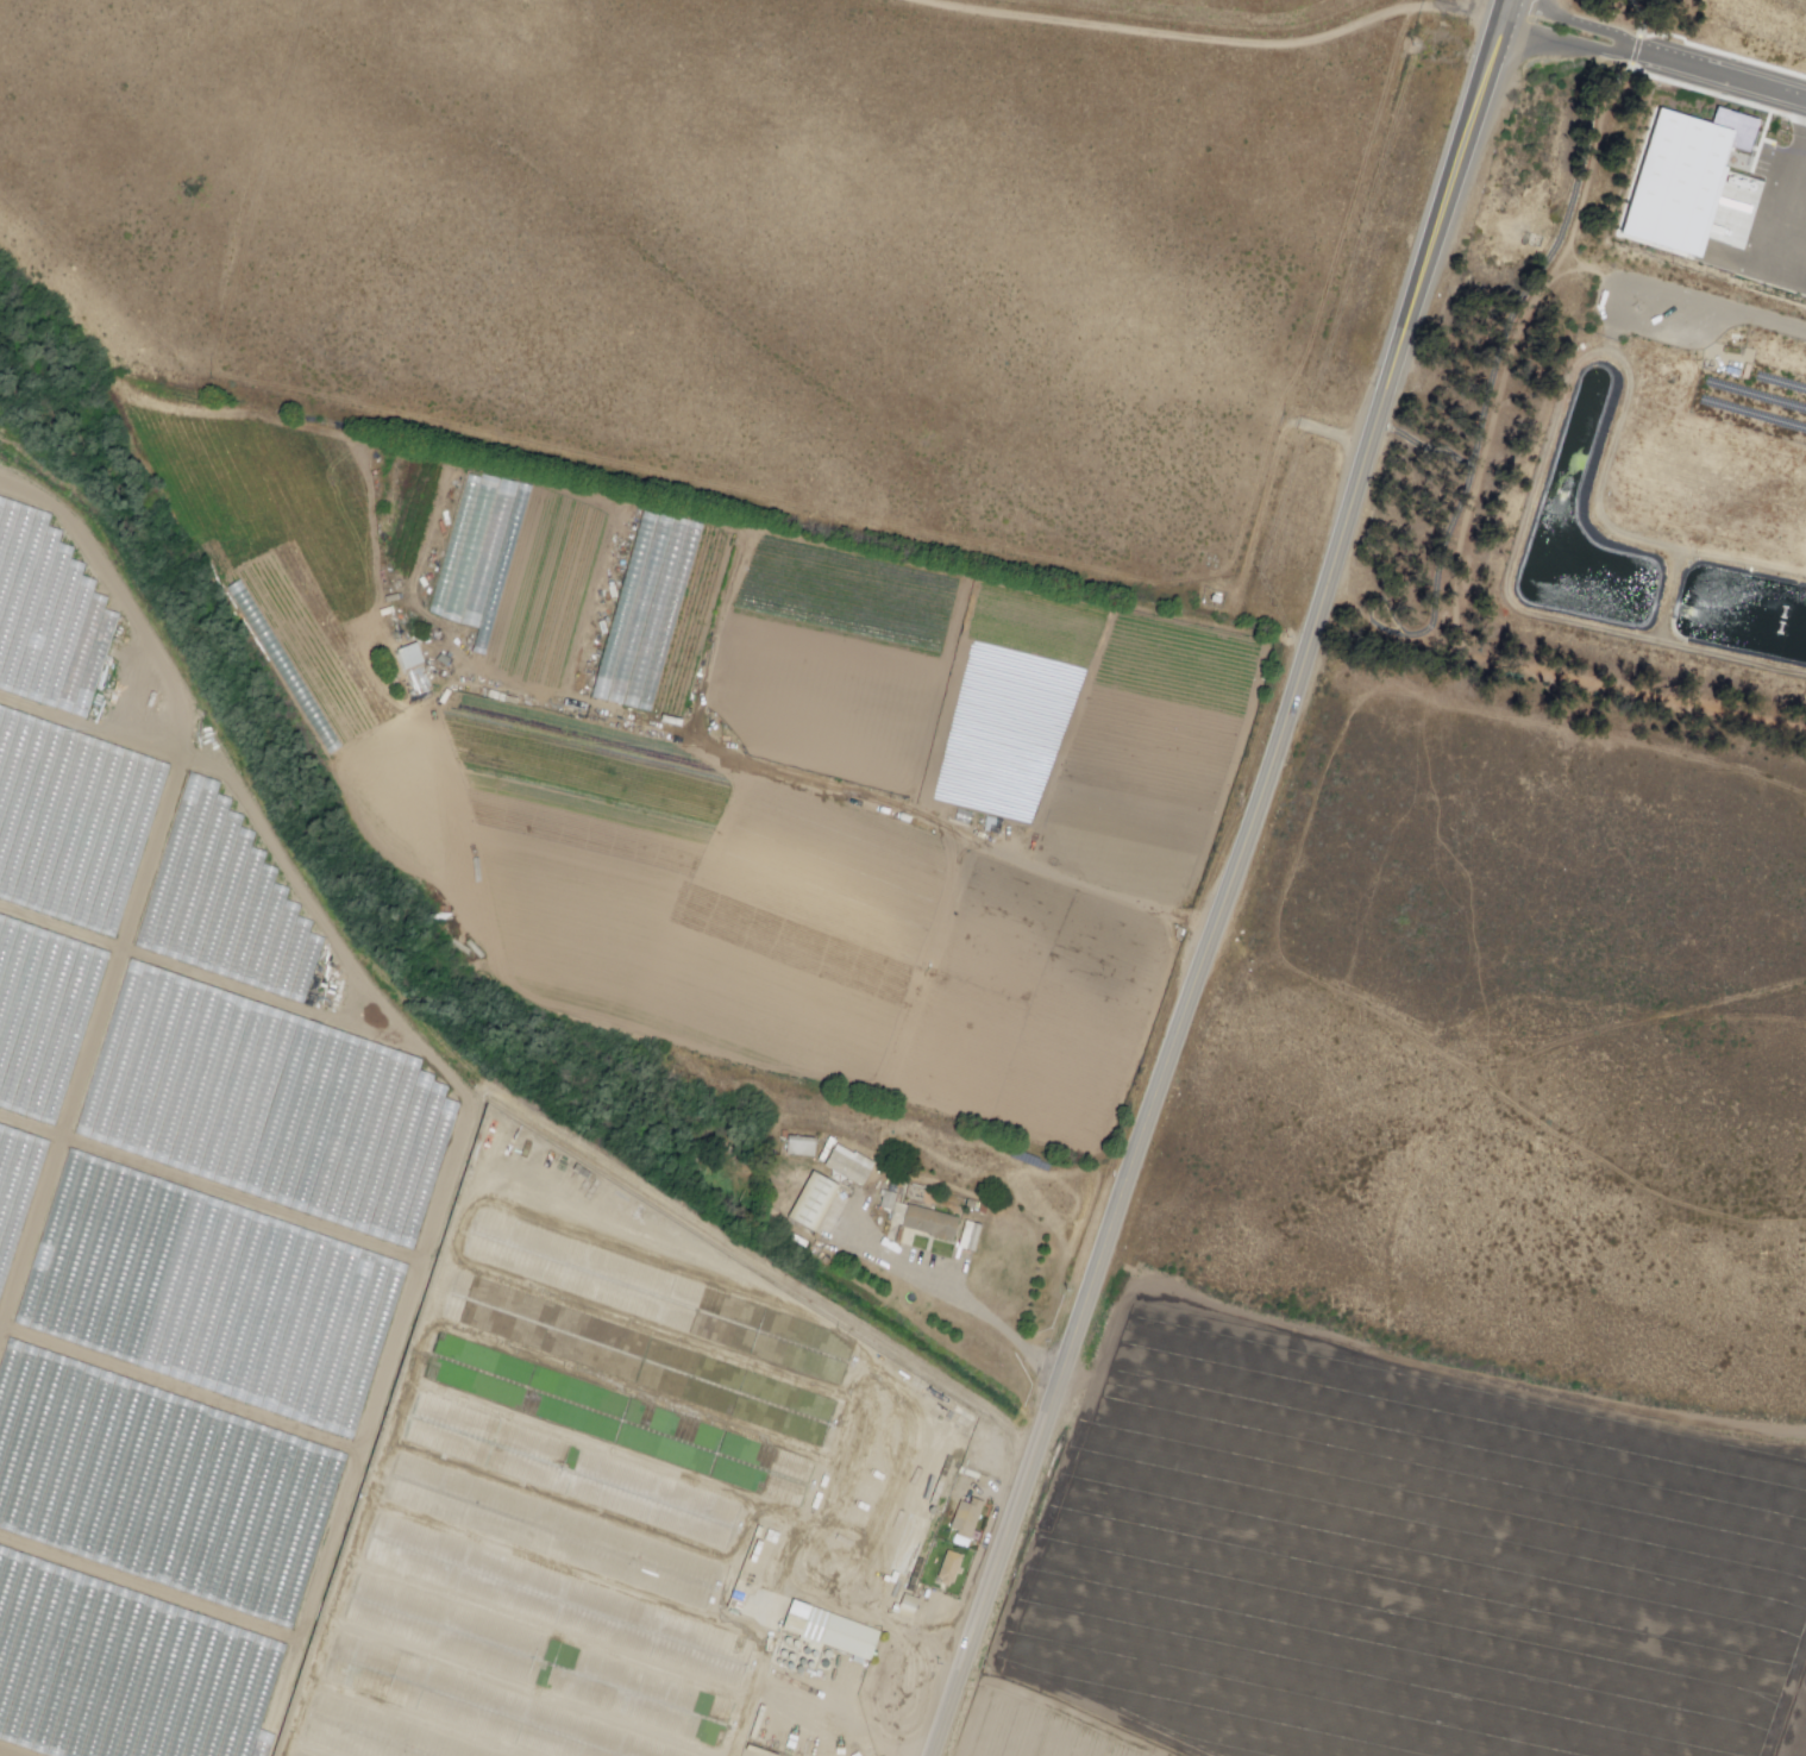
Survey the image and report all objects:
road: (1211, 38)
road: (1653, 55)
building: (1678, 181)
road: (1607, 306)
parking lot: (1661, 312)
road: (1774, 319)
road: (1495, 358)
building: (1210, 598)
building: (613, 612)
building: (541, 658)
building: (412, 671)
crop: (957, 698)
crop: (648, 876)
road: (1225, 882)
crop: (180, 928)
crop: (985, 989)
building: (803, 1147)
building: (851, 1164)
building: (813, 1198)
building: (917, 1218)
building: (972, 1231)
road: (979, 1311)
crop: (164, 1449)
building: (966, 1516)
crop: (1404, 1563)
building: (951, 1567)
building: (829, 1630)
crop: (1039, 1731)
crop: (1799, 1737)

